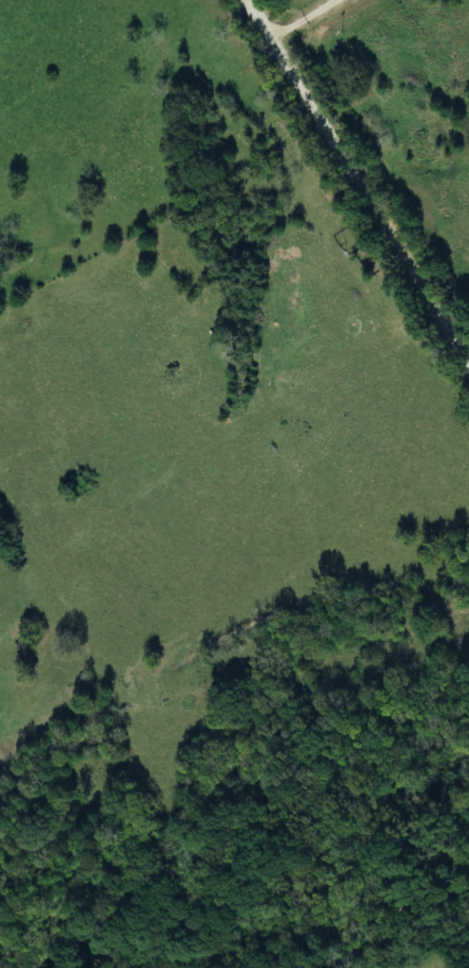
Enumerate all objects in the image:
road: (301, 18)
road: (358, 183)

